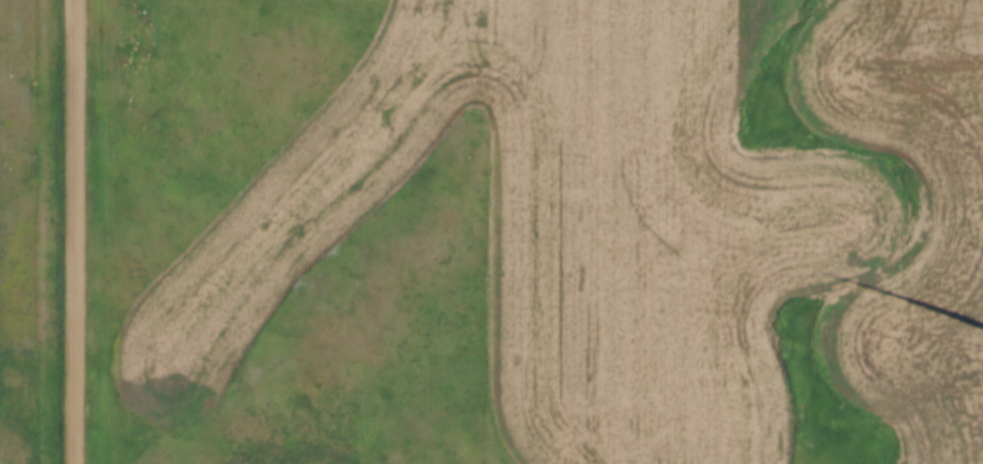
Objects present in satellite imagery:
road: (76, 232)

